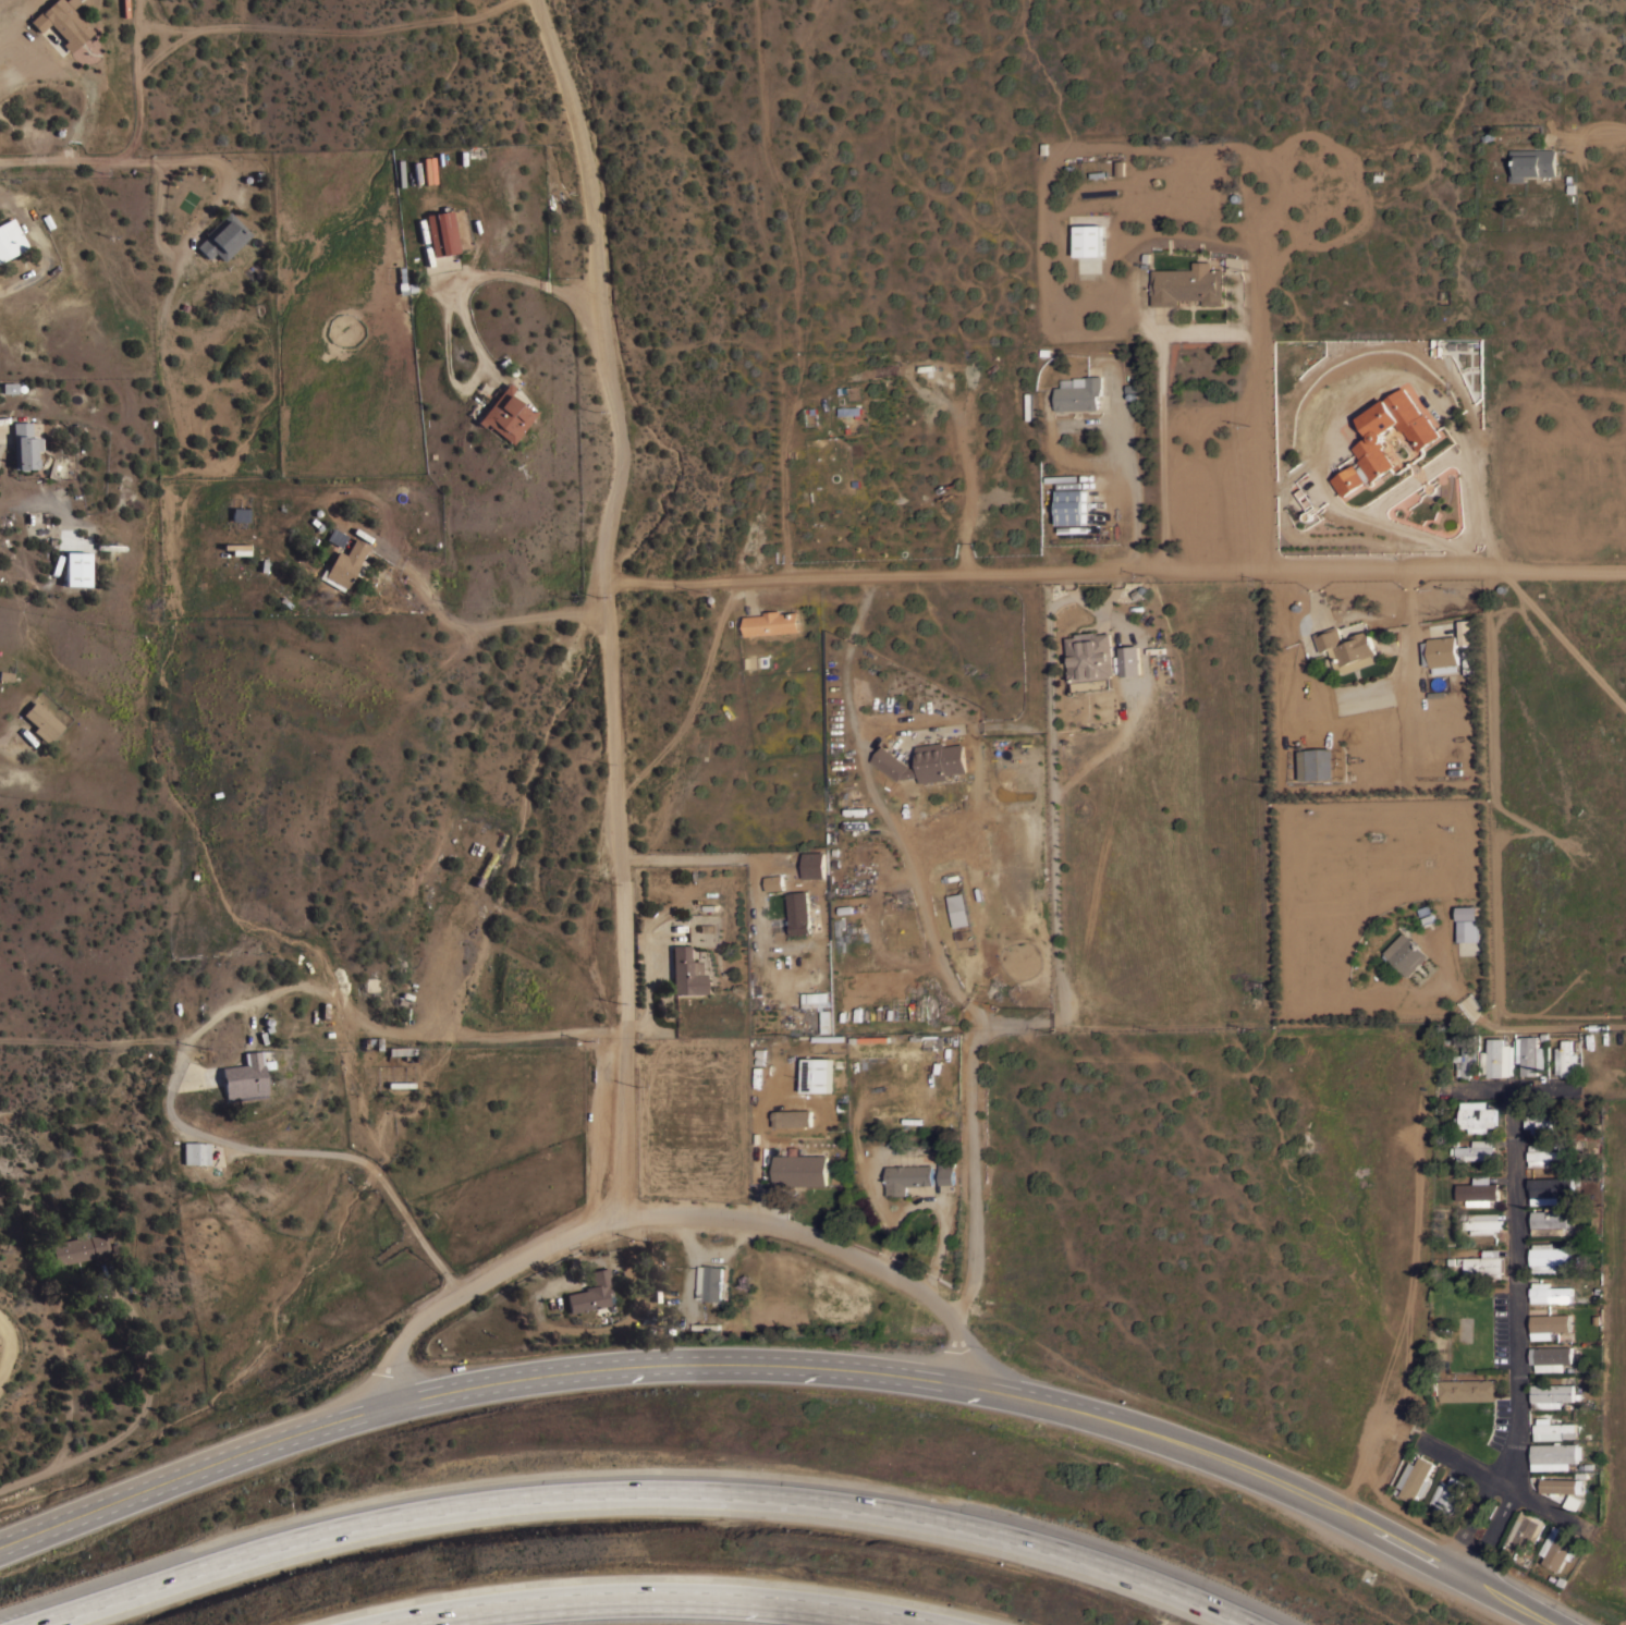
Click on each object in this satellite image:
road: (314, 21)
building: (62, 22)
road: (15, 73)
road: (137, 81)
road: (1604, 133)
building: (1531, 162)
road: (71, 163)
building: (426, 170)
building: (441, 233)
building: (223, 237)
building: (10, 239)
building: (1084, 241)
building: (1233, 264)
building: (1188, 284)
road: (443, 313)
building: (9, 388)
building: (1078, 393)
building: (504, 415)
building: (1373, 442)
building: (24, 445)
road: (1163, 448)
road: (1134, 487)
road: (1409, 488)
building: (1072, 506)
building: (240, 514)
building: (335, 537)
building: (109, 547)
building: (344, 565)
building: (76, 569)
road: (1112, 571)
road: (600, 602)
road: (459, 622)
building: (772, 623)
building: (1465, 633)
building: (1346, 649)
building: (1441, 653)
building: (1089, 656)
building: (1129, 661)
building: (41, 721)
building: (925, 762)
building: (1313, 765)
building: (479, 848)
building: (486, 851)
road: (717, 857)
building: (814, 864)
building: (774, 882)
building: (955, 909)
building: (799, 913)
building: (1467, 913)
building: (1467, 930)
road: (938, 944)
building: (1404, 953)
building: (686, 973)
building: (812, 1002)
road: (193, 1040)
building: (931, 1040)
building: (371, 1042)
building: (400, 1051)
building: (1529, 1054)
building: (1466, 1058)
building: (1497, 1058)
building: (1565, 1059)
building: (817, 1074)
building: (245, 1077)
road: (1511, 1090)
building: (1477, 1116)
building: (1542, 1122)
building: (1475, 1149)
building: (195, 1152)
building: (1543, 1154)
building: (800, 1170)
building: (946, 1171)
building: (907, 1177)
building: (1478, 1190)
building: (1544, 1192)
road: (667, 1214)
building: (1549, 1221)
building: (1481, 1222)
building: (78, 1248)
building: (1548, 1256)
building: (1486, 1263)
building: (710, 1282)
building: (590, 1292)
building: (1551, 1293)
building: (706, 1325)
building: (1548, 1328)
road: (1513, 1341)
road: (1, 1346)
building: (1550, 1357)
road: (784, 1363)
building: (1467, 1390)
building: (1551, 1394)
road: (133, 1420)
building: (1553, 1428)
building: (1554, 1455)
building: (1416, 1478)
road: (1504, 1486)
building: (1562, 1486)
road: (644, 1488)
building: (1448, 1494)
building: (1573, 1503)
building: (1525, 1530)
building: (1556, 1549)
road: (659, 1589)

